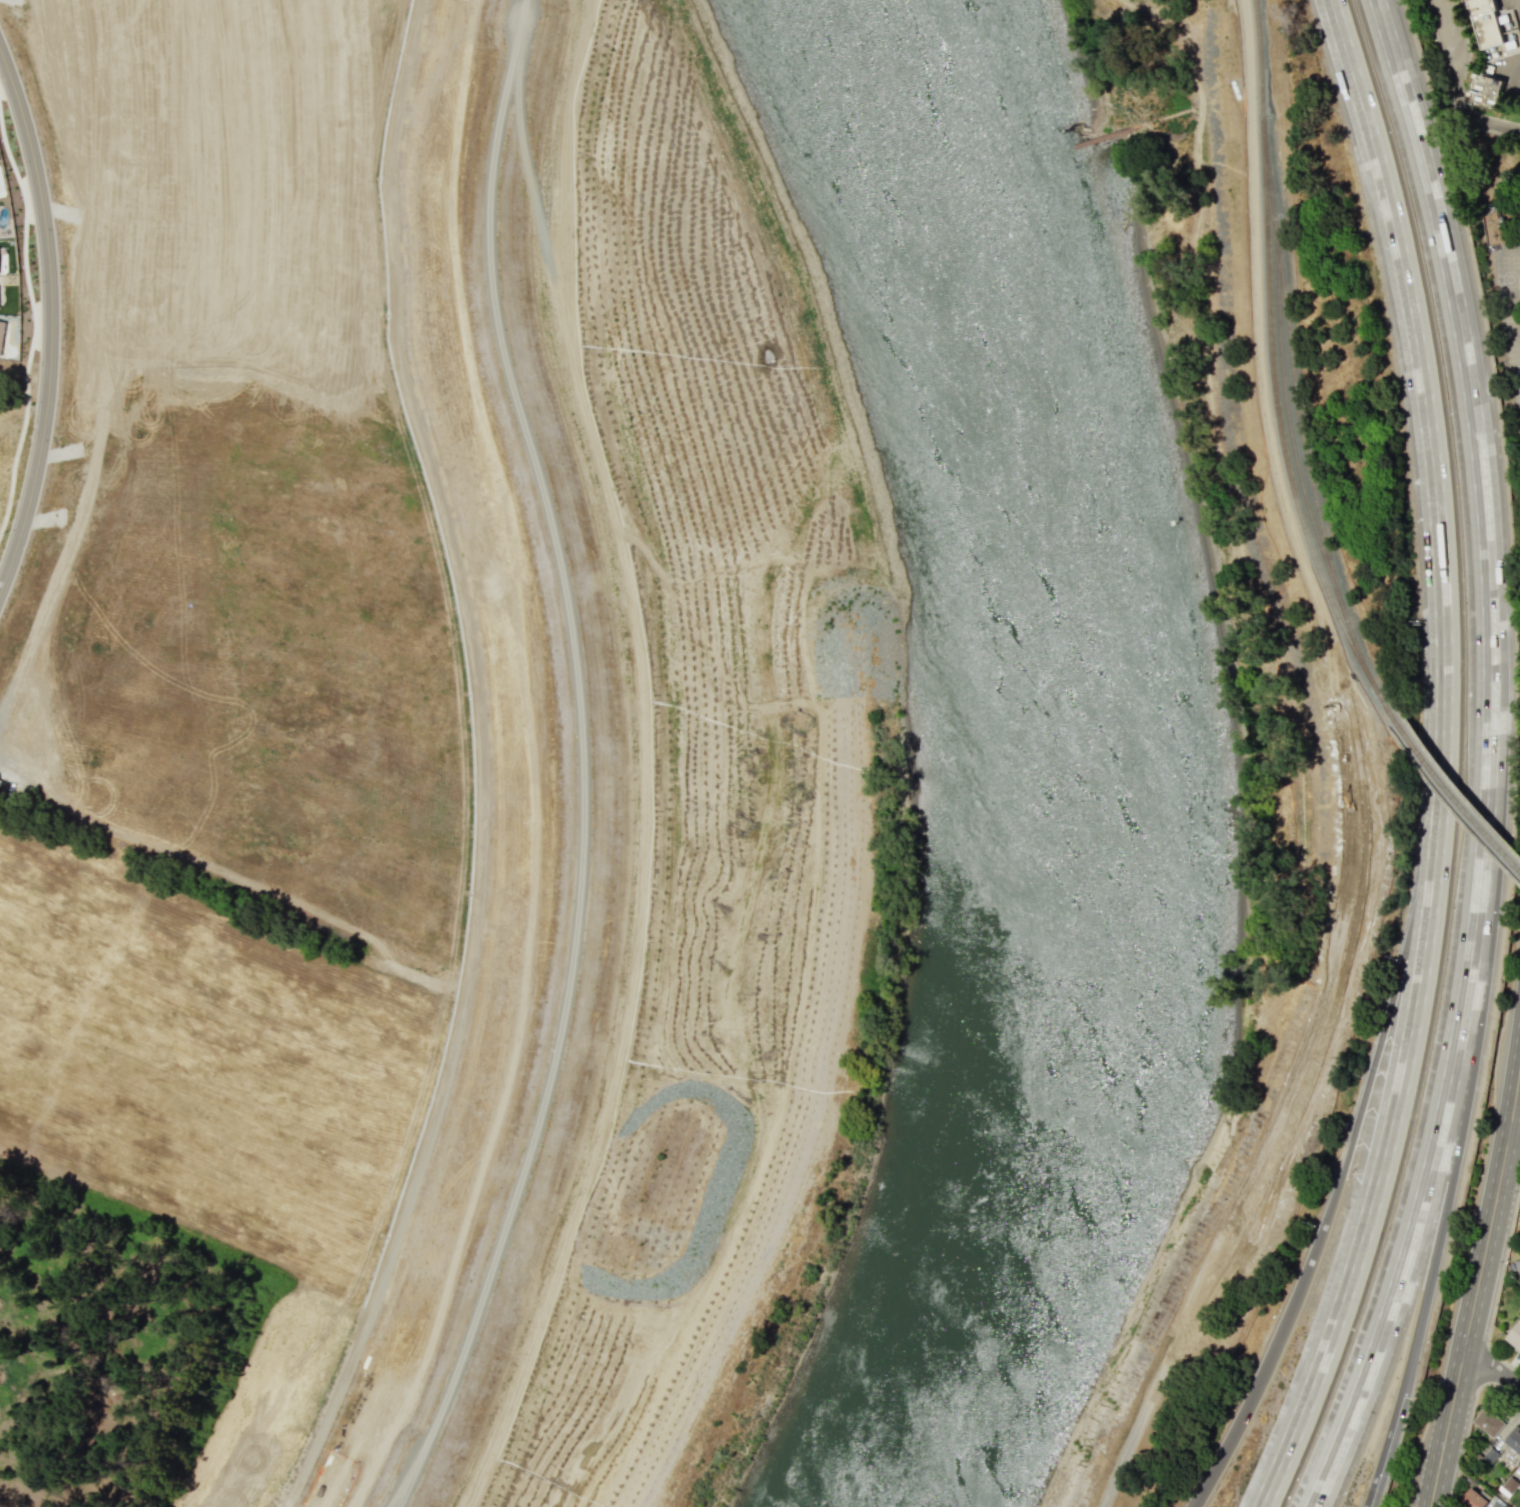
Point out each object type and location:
building: (1489, 22)
road: (1455, 84)
building: (1486, 90)
street lamp: (19, 166)
building: (1490, 227)
road: (50, 320)
building: (1, 333)
road: (1418, 360)
railway: (1272, 368)
street lamp: (31, 404)
railway: (1287, 414)
railway: (1298, 427)
crop: (223, 652)
road: (583, 760)
river: (1071, 760)
road: (1490, 760)
road: (9, 768)
road: (1363, 773)
road: (1442, 777)
railway: (1452, 793)
road: (1472, 1068)
road: (1393, 1128)
road: (1513, 1130)
road: (1354, 1131)
building: (592, 1246)
building: (1517, 1265)
road: (1479, 1270)
building: (1514, 1334)
road: (1492, 1367)
building: (1487, 1422)
building: (1513, 1439)
building: (1490, 1455)
building: (1507, 1486)
building: (1472, 1500)
building: (1493, 1503)

